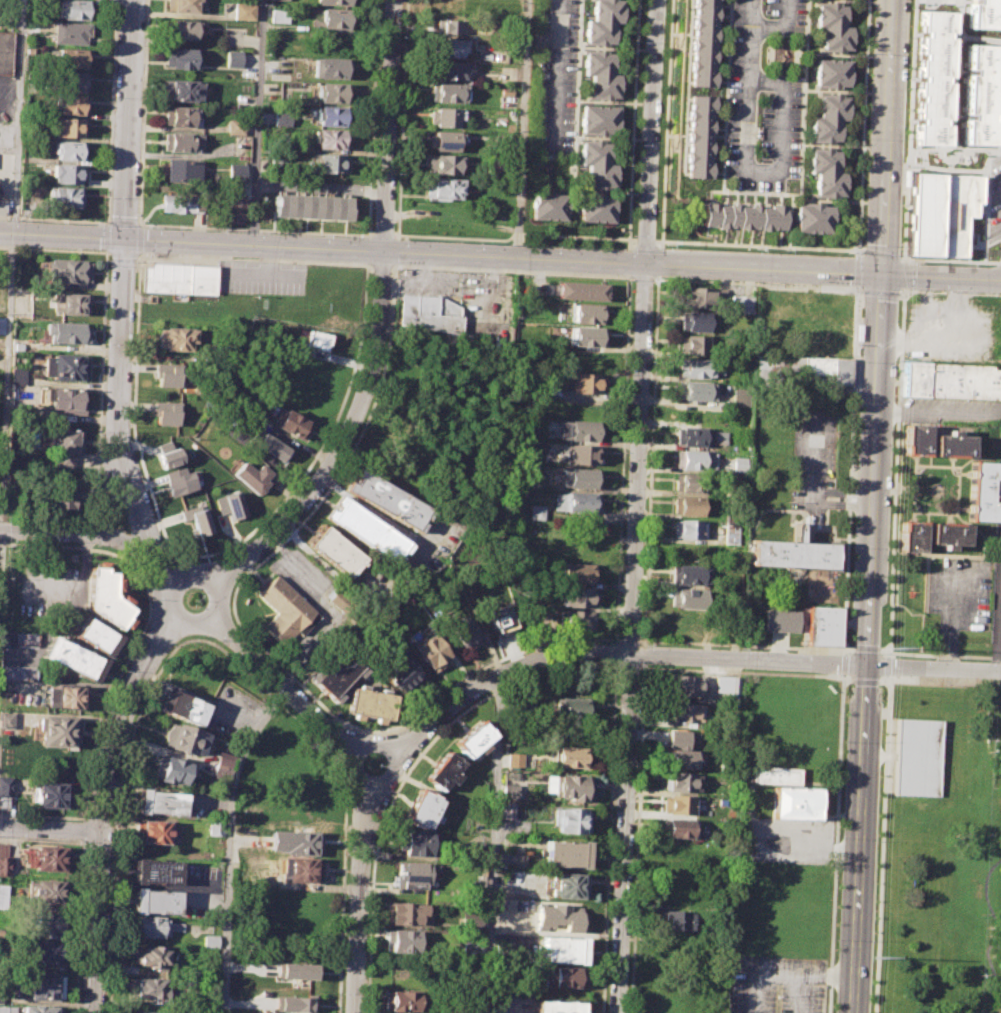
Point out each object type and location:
building: (285, 0)
building: (332, 2)
building: (182, 5)
building: (74, 9)
building: (244, 12)
building: (983, 14)
road: (186, 16)
building: (280, 16)
building: (333, 16)
building: (601, 22)
building: (446, 26)
building: (832, 27)
road: (781, 29)
building: (181, 30)
building: (70, 32)
building: (541, 38)
building: (701, 43)
building: (446, 47)
building: (5, 52)
building: (180, 58)
building: (71, 59)
building: (233, 59)
building: (331, 68)
building: (448, 70)
road: (557, 70)
building: (831, 73)
building: (599, 74)
building: (933, 76)
building: (68, 81)
road: (745, 81)
building: (182, 91)
building: (331, 92)
building: (446, 92)
building: (980, 94)
building: (68, 104)
building: (330, 116)
building: (181, 117)
building: (282, 117)
building: (443, 117)
building: (598, 118)
building: (829, 118)
road: (128, 120)
road: (257, 122)
road: (388, 126)
building: (64, 127)
building: (235, 127)
road: (780, 127)
road: (522, 129)
road: (908, 130)
road: (651, 132)
building: (698, 137)
building: (329, 139)
building: (443, 141)
building: (181, 142)
building: (240, 147)
building: (66, 150)
building: (328, 163)
building: (596, 163)
building: (441, 164)
building: (64, 172)
building: (184, 172)
building: (236, 172)
building: (826, 172)
road: (320, 186)
building: (444, 189)
building: (62, 196)
building: (180, 203)
building: (2, 205)
building: (547, 205)
building: (309, 207)
building: (234, 208)
building: (595, 208)
building: (941, 212)
building: (742, 215)
building: (813, 217)
road: (54, 219)
road: (122, 222)
road: (255, 230)
road: (382, 234)
road: (513, 234)
road: (61, 237)
road: (645, 239)
road: (759, 245)
road: (253, 246)
road: (881, 254)
road: (514, 257)
road: (949, 261)
building: (65, 270)
road: (1000, 272)
road: (822, 273)
road: (903, 274)
traffic signals: (883, 276)
building: (178, 278)
road: (11, 283)
building: (581, 290)
road: (859, 293)
building: (704, 297)
building: (71, 303)
building: (740, 305)
building: (429, 312)
building: (587, 313)
building: (806, 318)
building: (702, 321)
building: (66, 332)
building: (586, 335)
building: (315, 338)
building: (178, 339)
building: (702, 344)
building: (225, 349)
power tower: (901, 360)
building: (66, 367)
building: (702, 368)
building: (802, 371)
building: (17, 376)
building: (167, 379)
building: (950, 380)
building: (585, 382)
building: (697, 390)
building: (64, 397)
building: (741, 397)
road: (933, 409)
parking lot: (949, 411)
building: (166, 412)
road: (118, 421)
building: (291, 425)
building: (582, 430)
building: (692, 436)
building: (720, 437)
building: (914, 439)
building: (951, 445)
road: (340, 446)
building: (65, 448)
building: (270, 448)
building: (167, 453)
building: (582, 453)
building: (691, 458)
building: (739, 465)
road: (812, 466)
road: (895, 472)
building: (251, 476)
building: (580, 477)
building: (180, 480)
building: (692, 482)
road: (842, 491)
building: (981, 491)
road: (108, 494)
building: (60, 497)
building: (386, 498)
building: (580, 501)
building: (230, 504)
road: (840, 504)
building: (690, 505)
road: (873, 506)
building: (536, 512)
building: (197, 519)
building: (365, 528)
building: (689, 528)
road: (75, 533)
building: (730, 534)
building: (947, 534)
building: (911, 536)
building: (335, 550)
building: (791, 552)
building: (576, 572)
building: (688, 574)
road: (199, 584)
building: (105, 597)
building: (575, 597)
building: (687, 597)
road: (998, 598)
road: (176, 600)
road: (948, 605)
building: (284, 608)
road: (196, 611)
building: (500, 617)
road: (948, 618)
building: (576, 619)
building: (780, 620)
building: (821, 624)
road: (143, 629)
building: (94, 634)
building: (464, 634)
road: (631, 639)
building: (25, 640)
road: (215, 645)
power tower: (891, 648)
building: (431, 652)
building: (69, 656)
road: (684, 656)
road: (843, 663)
road: (629, 665)
road: (889, 665)
road: (641, 666)
building: (340, 671)
road: (737, 671)
building: (18, 673)
building: (401, 674)
road: (865, 678)
road: (277, 679)
building: (685, 685)
building: (727, 691)
building: (67, 695)
building: (370, 703)
building: (180, 705)
building: (572, 706)
building: (683, 712)
building: (6, 720)
building: (56, 731)
building: (185, 738)
building: (473, 738)
building: (680, 738)
road: (372, 742)
building: (570, 756)
building: (915, 757)
building: (681, 759)
building: (514, 760)
building: (222, 766)
building: (443, 770)
building: (174, 771)
road: (408, 771)
road: (352, 773)
road: (392, 776)
building: (680, 782)
building: (573, 787)
building: (5, 791)
building: (509, 792)
building: (787, 792)
building: (49, 794)
road: (103, 802)
building: (160, 802)
building: (679, 804)
building: (422, 808)
building: (509, 810)
building: (570, 819)
road: (50, 827)
building: (678, 827)
road: (82, 831)
building: (155, 832)
road: (608, 839)
parking lot: (788, 840)
building: (301, 842)
road: (230, 843)
building: (417, 843)
road: (495, 843)
road: (881, 843)
road: (808, 845)
building: (565, 853)
building: (48, 858)
building: (511, 860)
building: (4, 866)
building: (300, 869)
building: (155, 871)
building: (412, 872)
building: (264, 875)
building: (479, 885)
building: (567, 885)
building: (48, 891)
building: (3, 896)
building: (154, 901)
road: (356, 901)
building: (407, 913)
building: (557, 916)
building: (470, 920)
building: (675, 920)
building: (51, 925)
road: (78, 926)
building: (148, 926)
building: (208, 940)
building: (403, 940)
building: (469, 948)
building: (562, 949)
building: (49, 952)
building: (151, 956)
power tower: (874, 957)
building: (295, 970)
road: (786, 975)
building: (564, 976)
parking lot: (776, 985)
building: (41, 986)
building: (147, 987)
road: (801, 994)
building: (294, 999)
building: (402, 1001)
building: (557, 1006)
building: (7, 1009)
building: (36, 1009)
road: (507, 1011)
building: (145, 1012)

